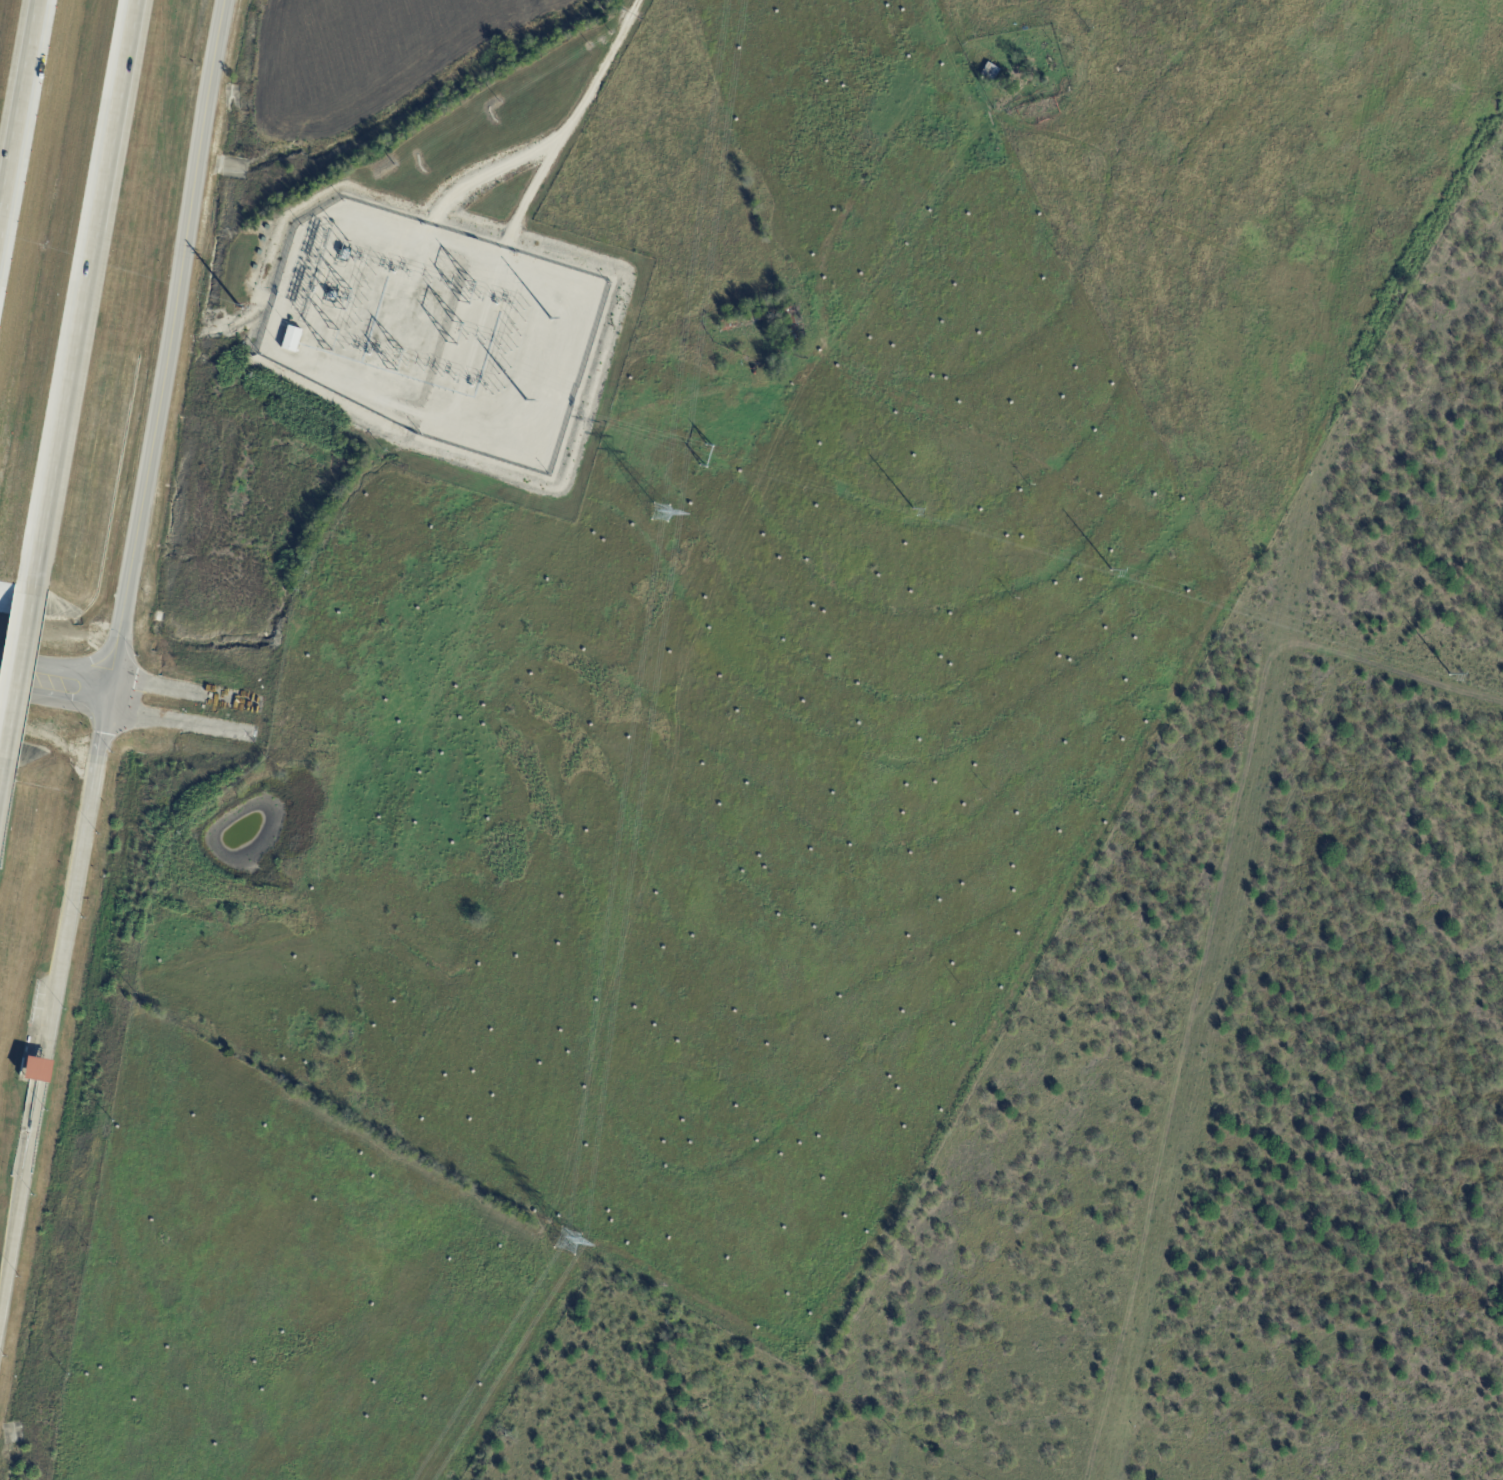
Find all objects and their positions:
building: (991, 72)
road: (21, 113)
road: (88, 284)
power tower: (548, 319)
building: (744, 321)
building: (792, 327)
power substation: (434, 331)
building: (292, 341)
road: (167, 347)
power tower: (524, 400)
power tower: (706, 456)
power tower: (913, 510)
power tower: (659, 514)
power tower: (1111, 570)
road: (18, 669)
power tower: (1446, 673)
road: (5, 676)
road: (61, 687)
road: (102, 742)
road: (83, 847)
road: (65, 946)
road: (52, 1023)
building: (36, 1068)
road: (44, 1070)
road: (21, 1197)
power tower: (564, 1242)

